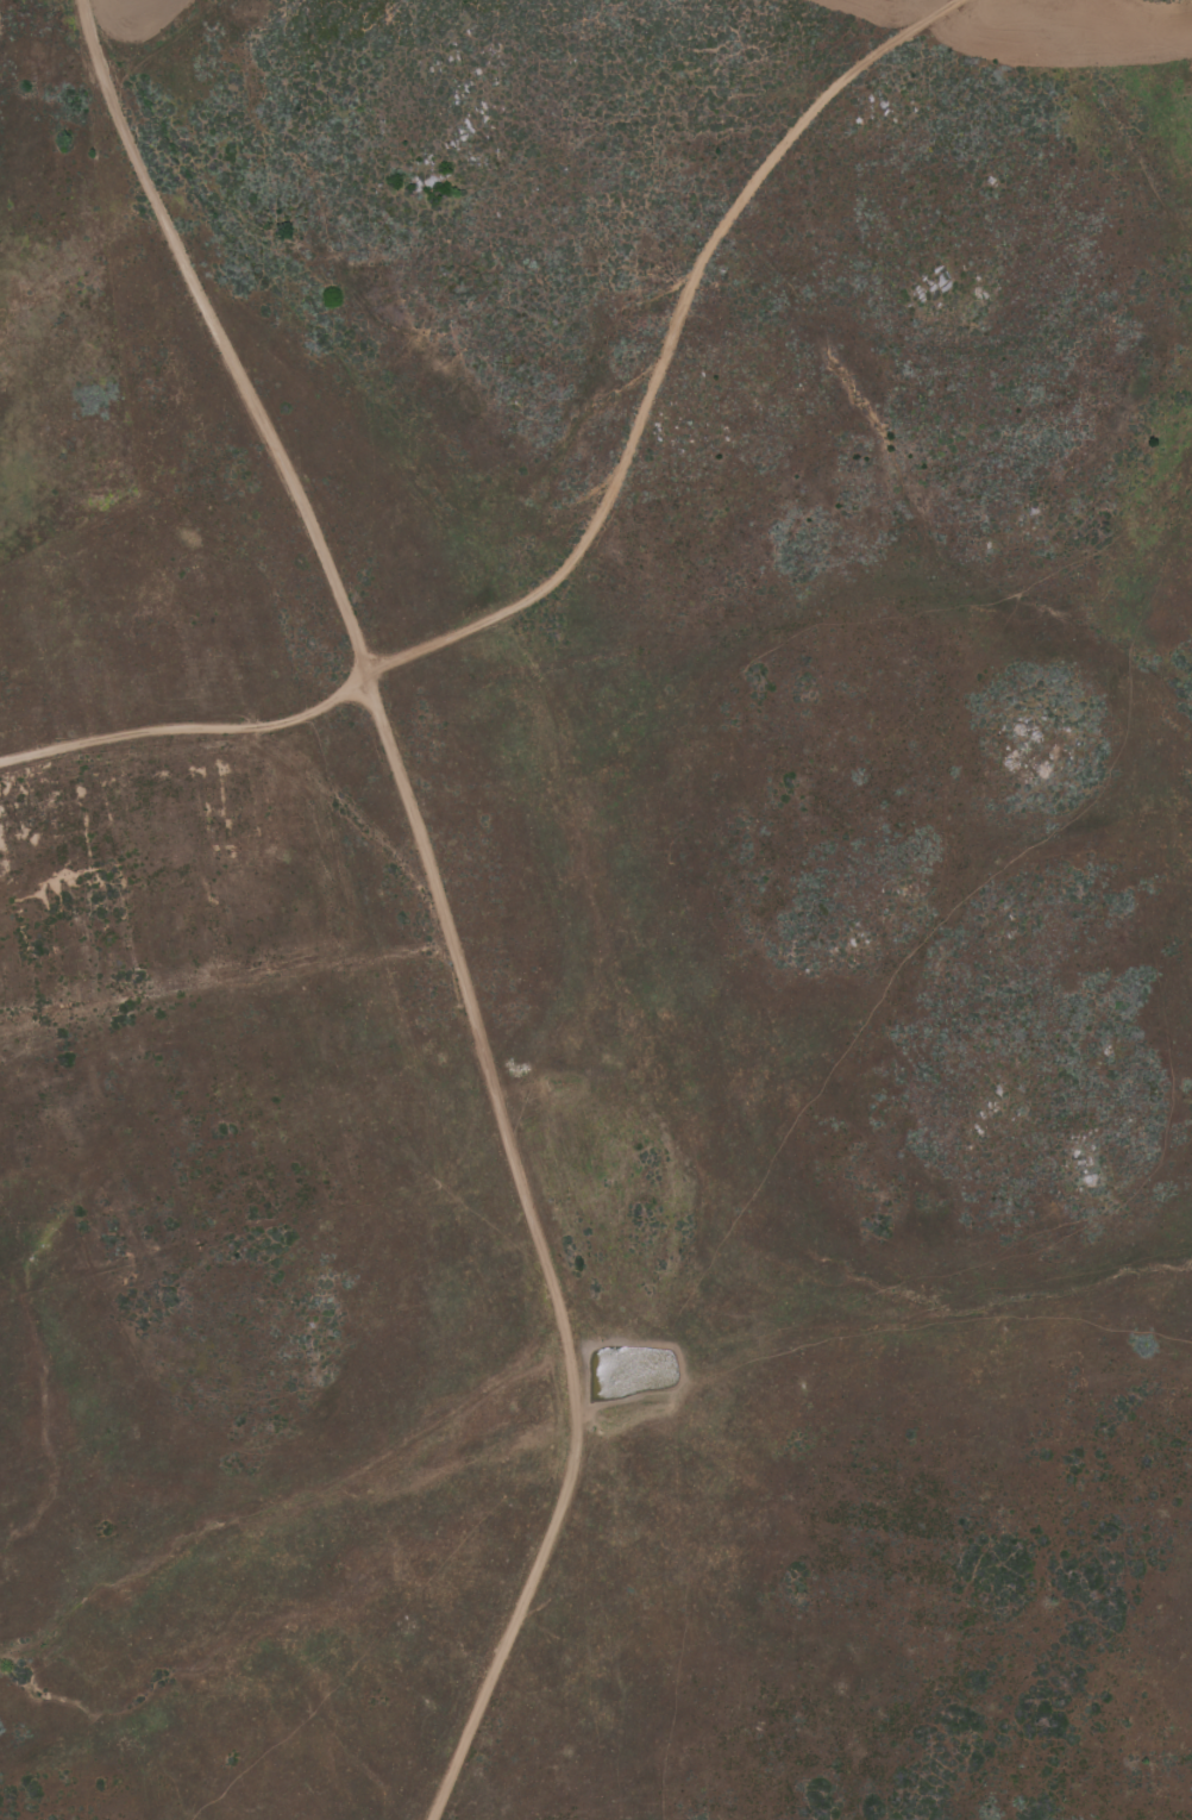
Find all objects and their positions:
road: (221, 338)
road: (595, 529)

